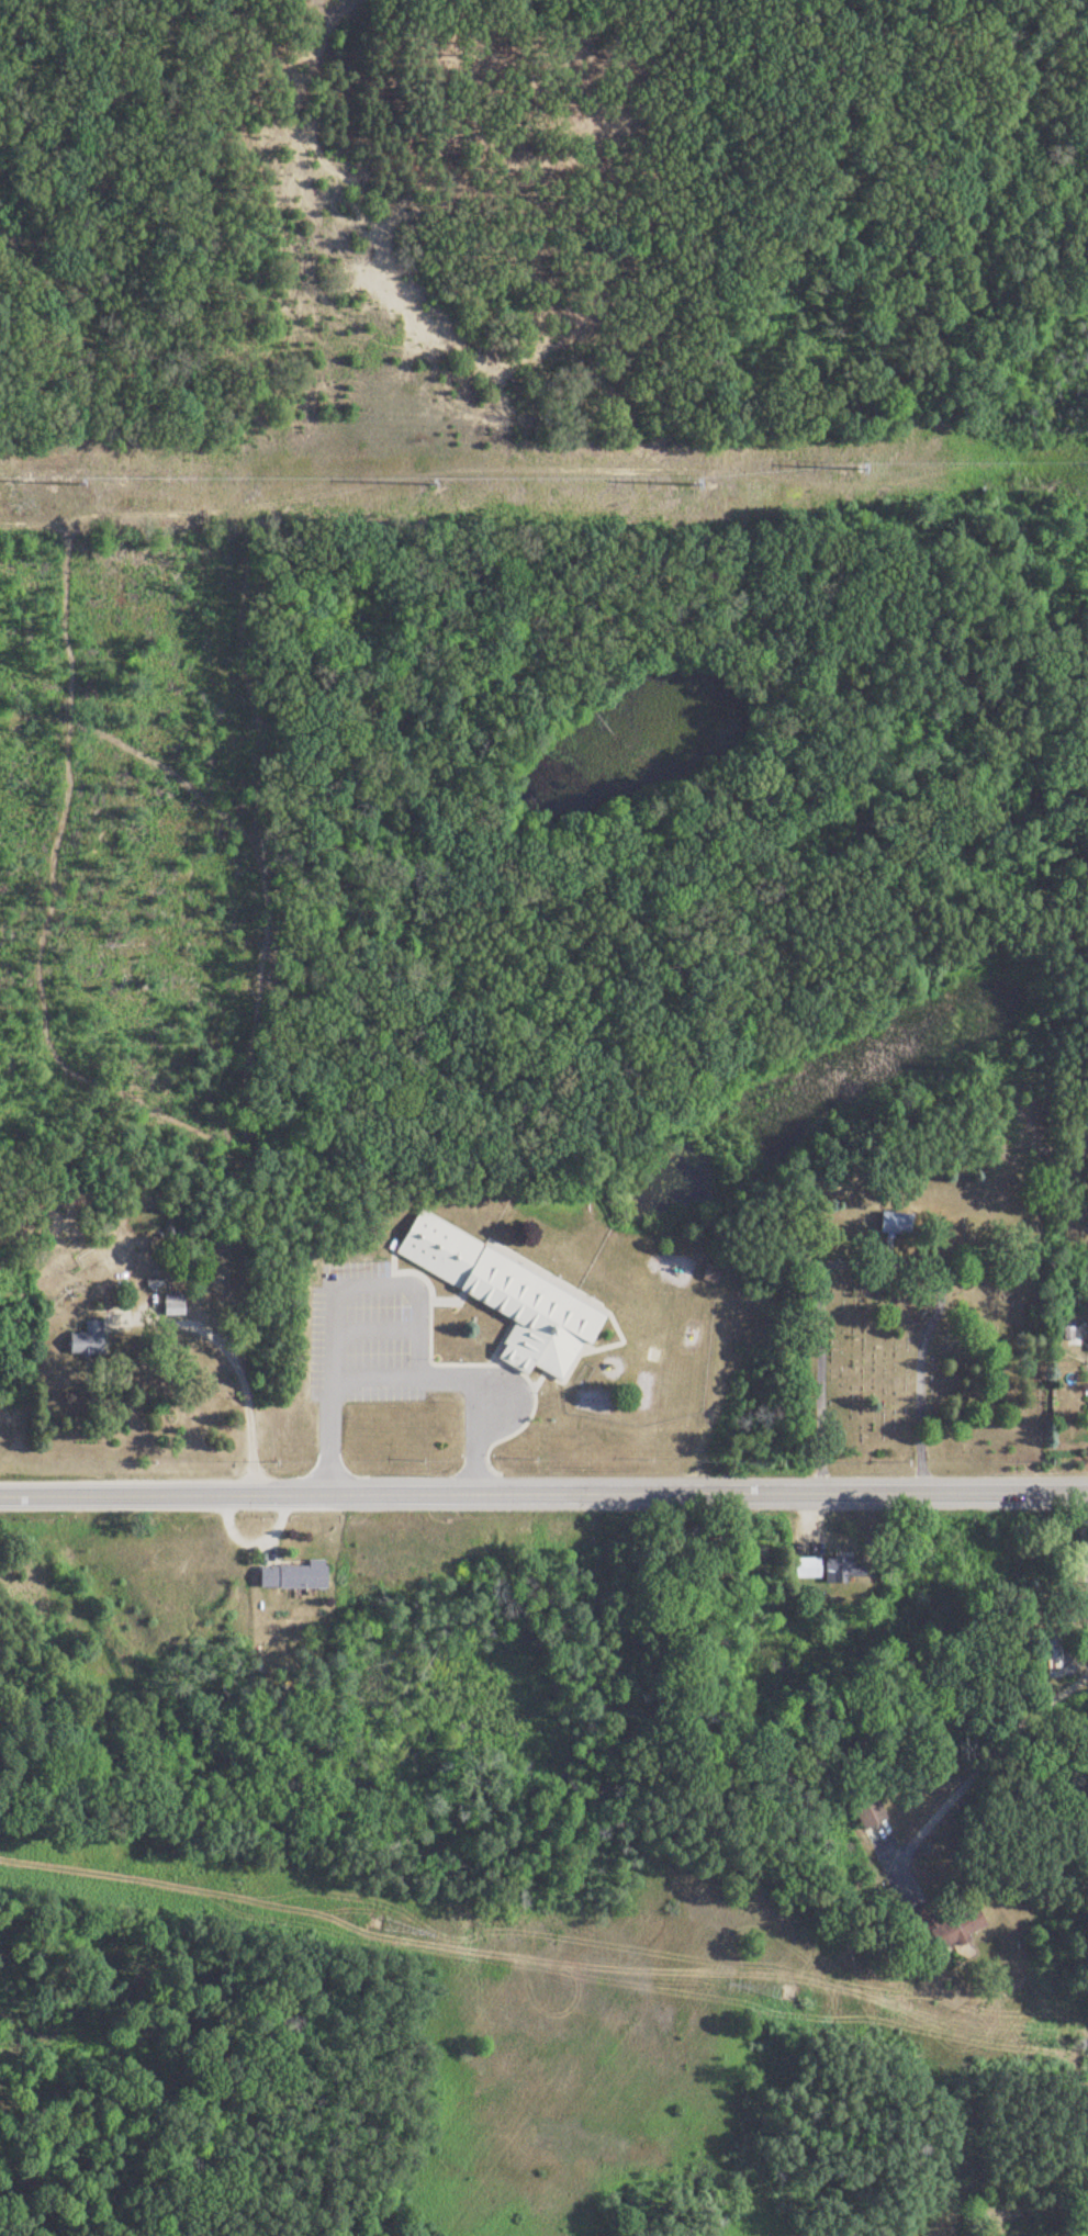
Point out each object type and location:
power tower: (855, 469)
power tower: (691, 483)
power tower: (425, 484)
power tower: (74, 486)
building: (893, 1225)
road: (874, 1259)
building: (708, 1274)
road: (415, 1283)
building: (505, 1299)
building: (171, 1308)
park: (917, 1317)
road: (379, 1324)
road: (335, 1334)
building: (86, 1340)
road: (238, 1361)
road: (404, 1370)
road: (543, 1493)
road: (1085, 1520)
building: (804, 1569)
building: (839, 1570)
building: (292, 1577)
road: (994, 1751)
power tower: (372, 1925)
power tower: (786, 1992)
power tower: (1084, 2046)

